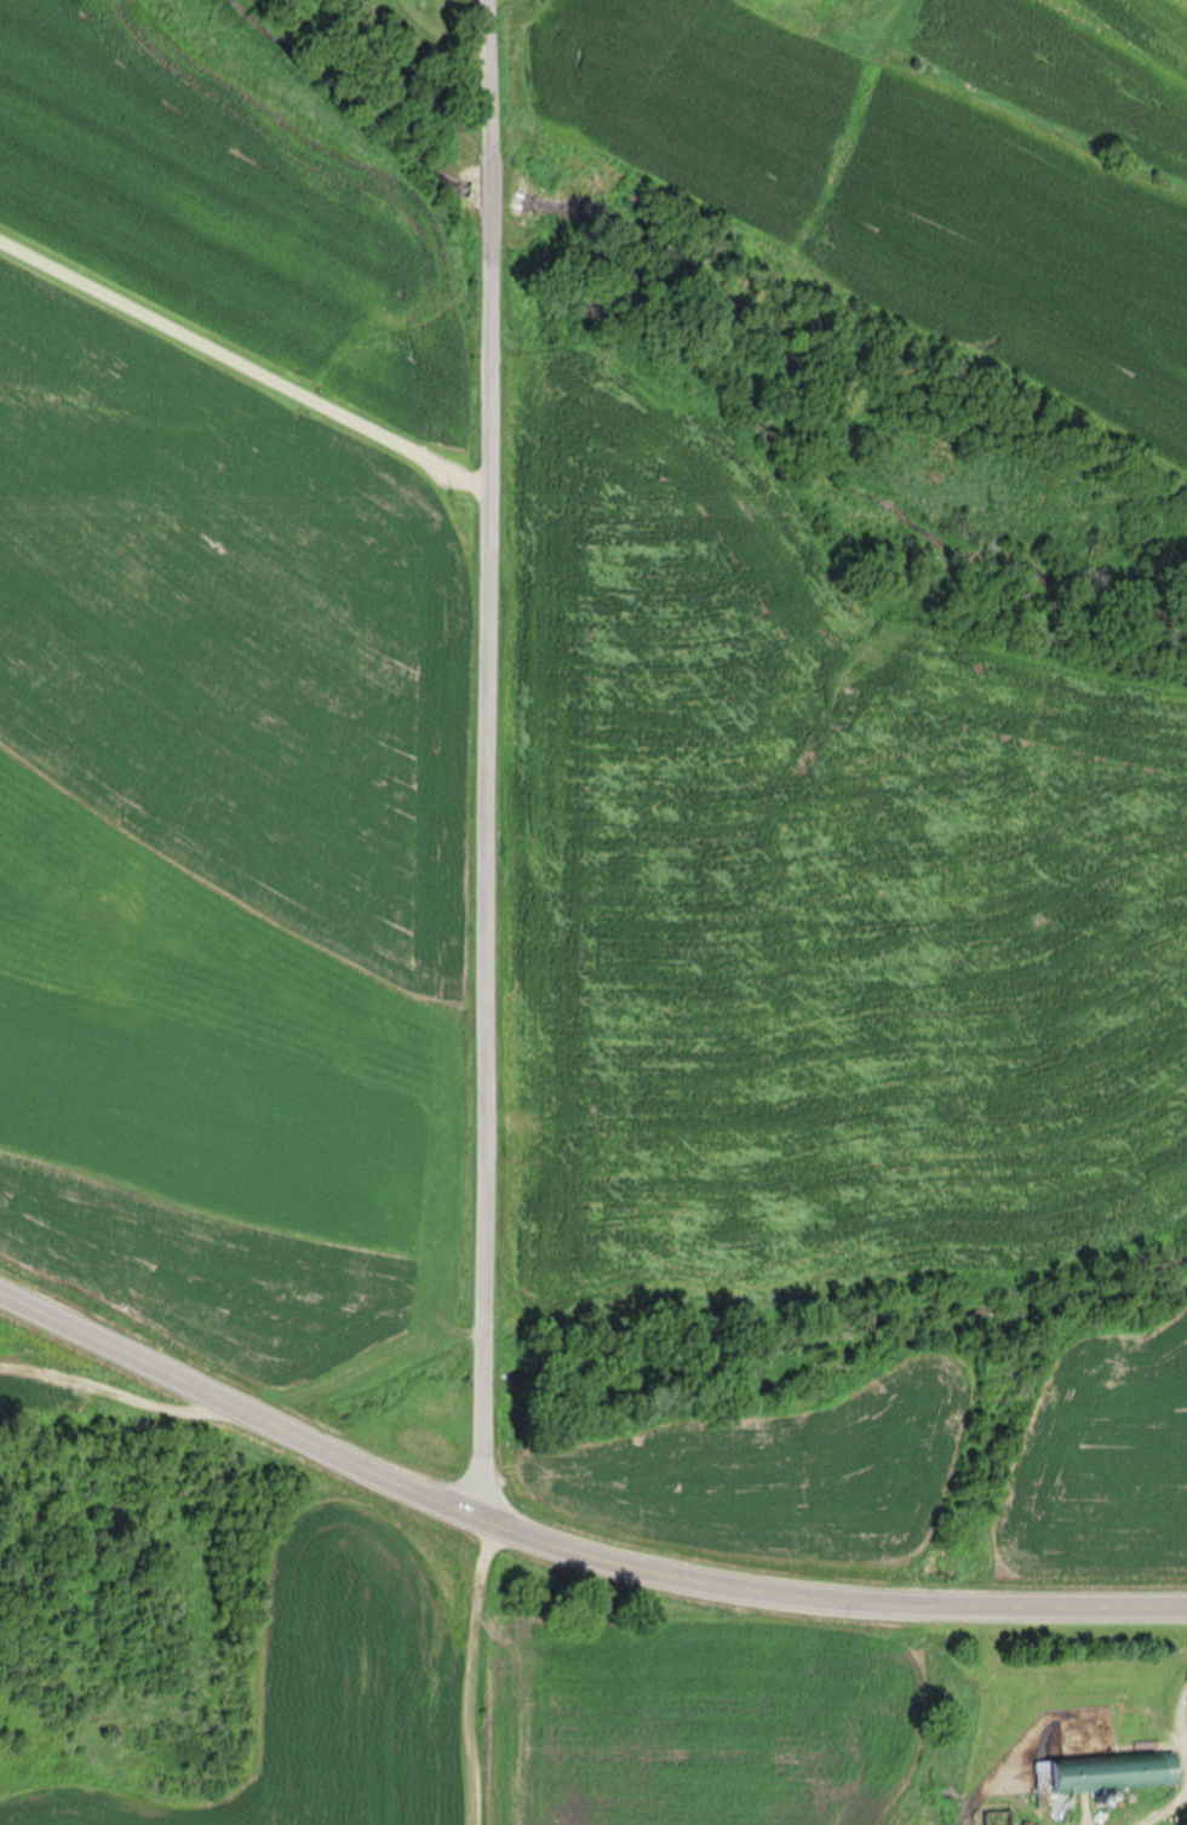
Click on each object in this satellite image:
road: (237, 360)
road: (472, 757)
road: (567, 1549)
building: (1099, 1774)
road: (1153, 1797)
building: (996, 1818)

